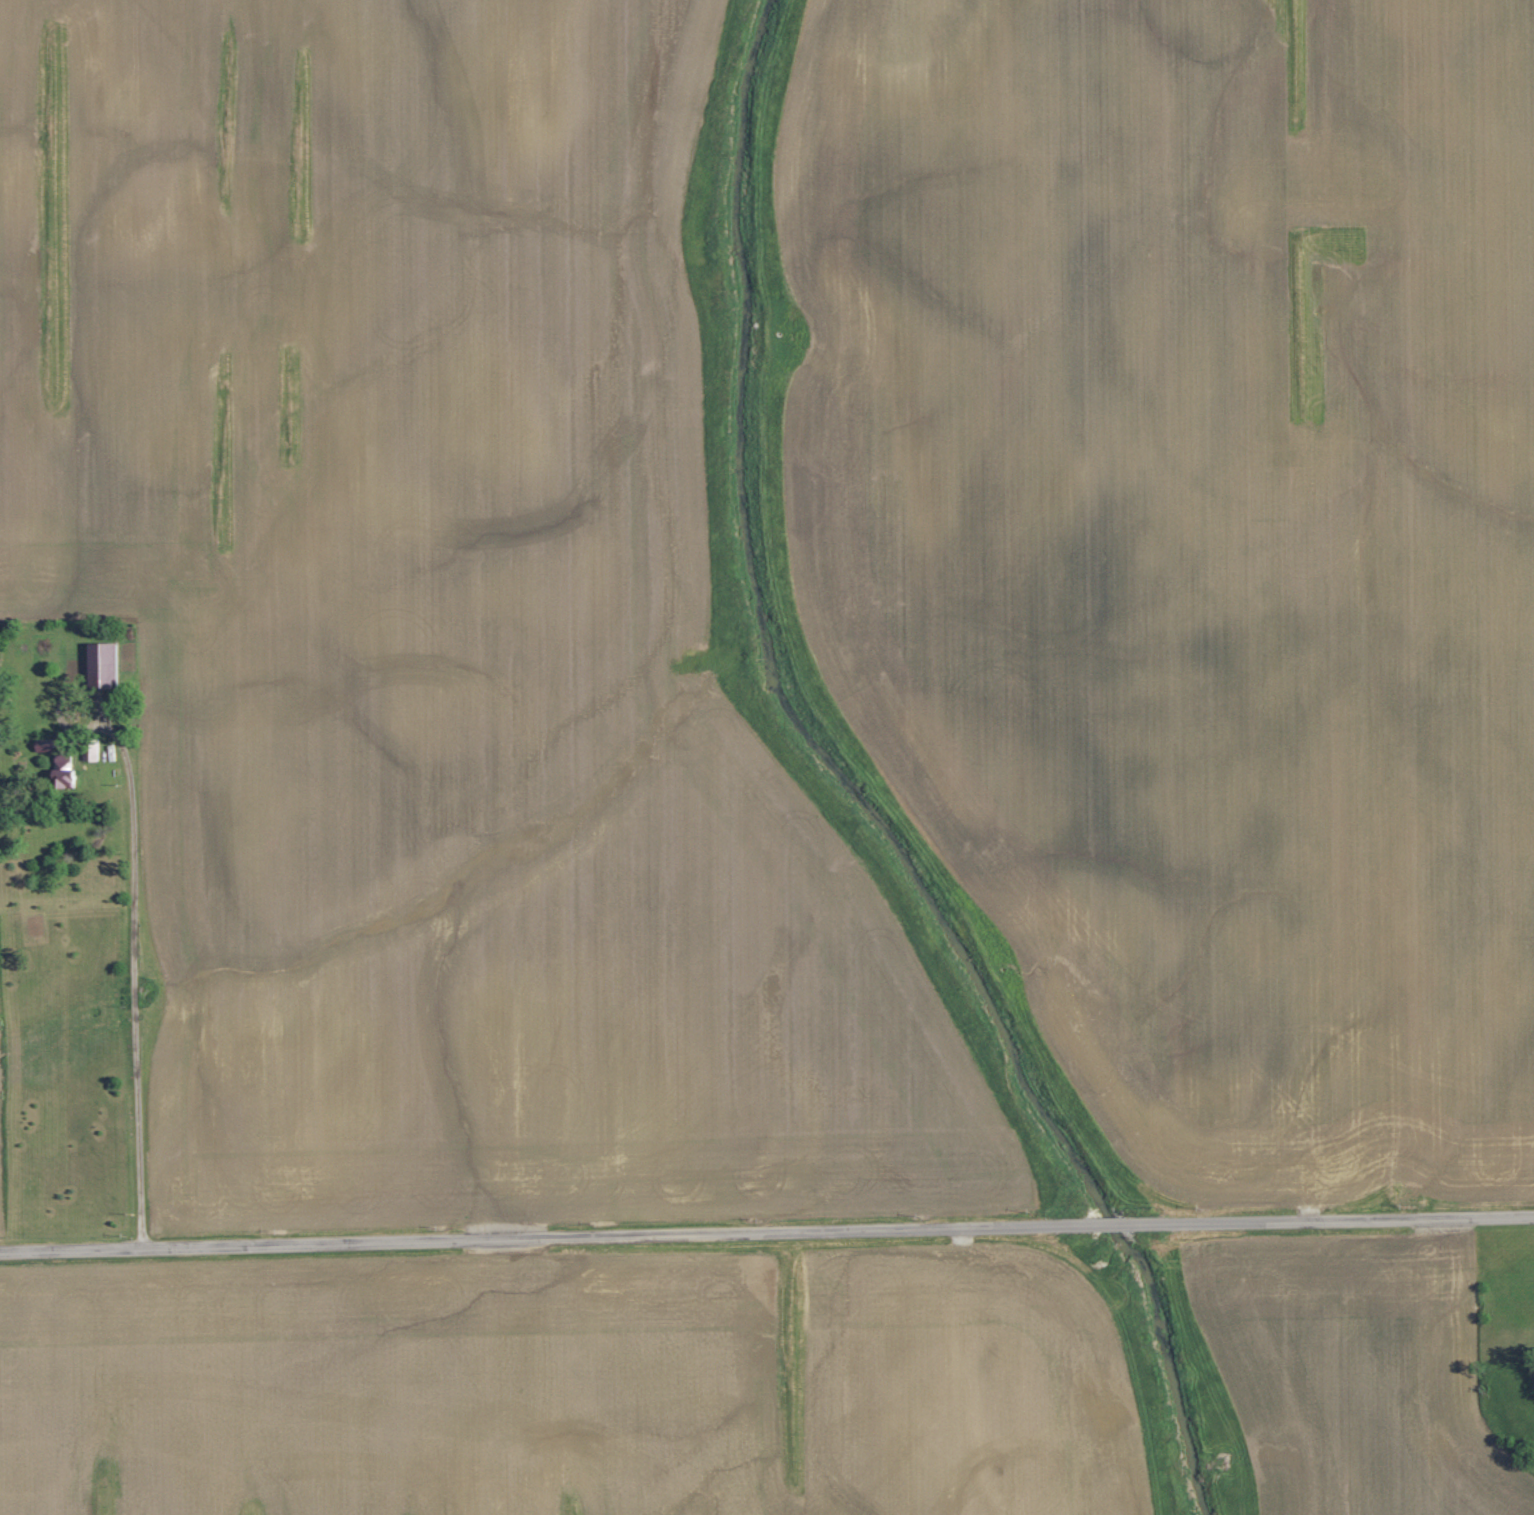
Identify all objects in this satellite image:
building: (70, 767)
road: (139, 990)
road: (1330, 1217)
road: (1107, 1221)
road: (543, 1235)

